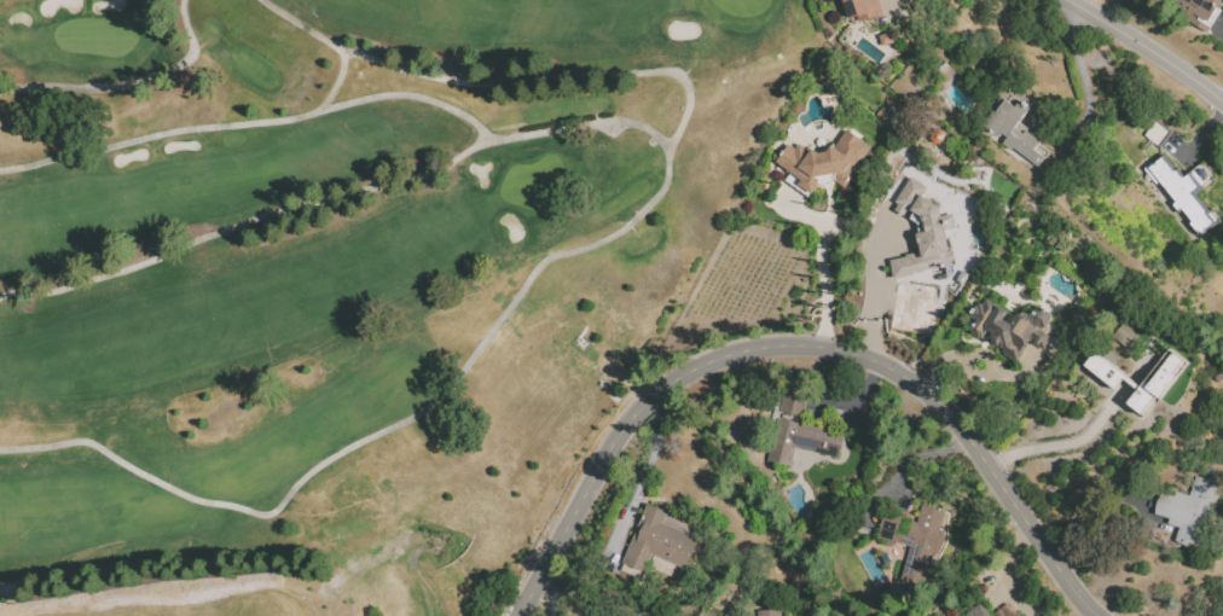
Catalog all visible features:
building: (862, 10)
building: (1200, 12)
road: (1144, 48)
road: (337, 75)
road: (123, 80)
road: (1082, 81)
road: (499, 82)
road: (249, 117)
road: (576, 122)
building: (1012, 124)
road: (1200, 133)
building: (1158, 135)
building: (823, 161)
building: (1187, 194)
road: (243, 223)
building: (921, 232)
road: (821, 274)
park: (344, 283)
road: (873, 289)
building: (1123, 335)
building: (1018, 342)
road: (800, 345)
building: (1140, 362)
building: (1102, 370)
building: (1154, 382)
building: (795, 403)
road: (439, 437)
building: (802, 443)
road: (1062, 443)
road: (905, 463)
road: (644, 471)
building: (1194, 515)
building: (660, 544)
building: (918, 545)
road: (1009, 568)
road: (553, 597)
road: (585, 597)
building: (980, 612)
building: (1007, 612)
building: (735, 614)
building: (773, 614)
building: (1014, 615)
building: (1019, 615)

